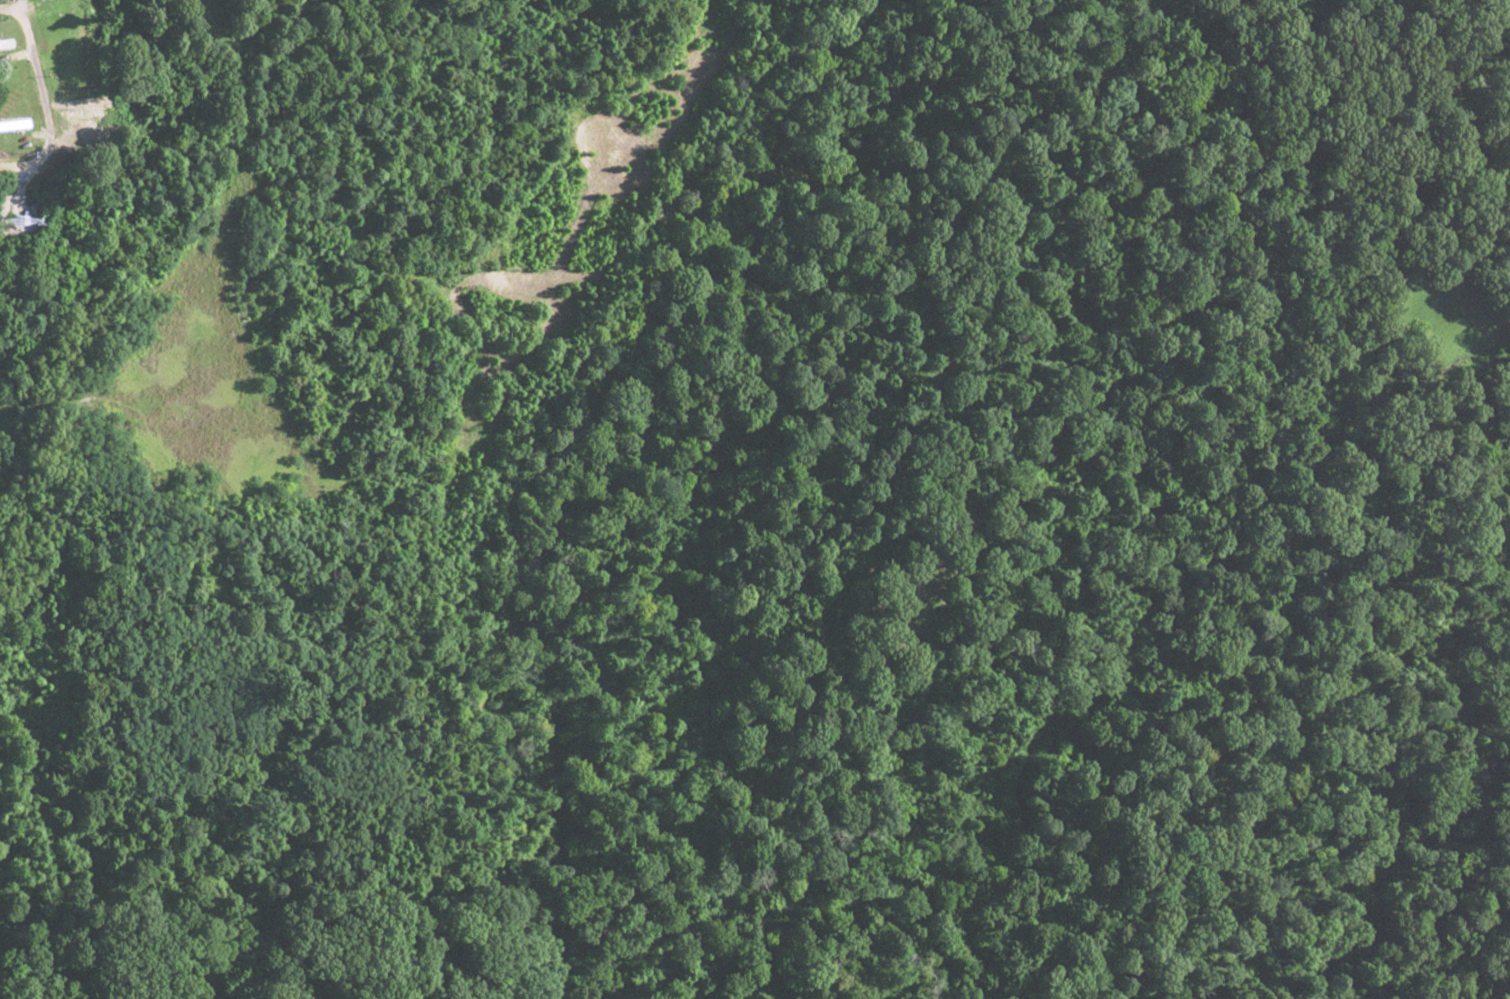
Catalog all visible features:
building: (3, 47)
road: (44, 92)
building: (82, 115)
building: (15, 123)

